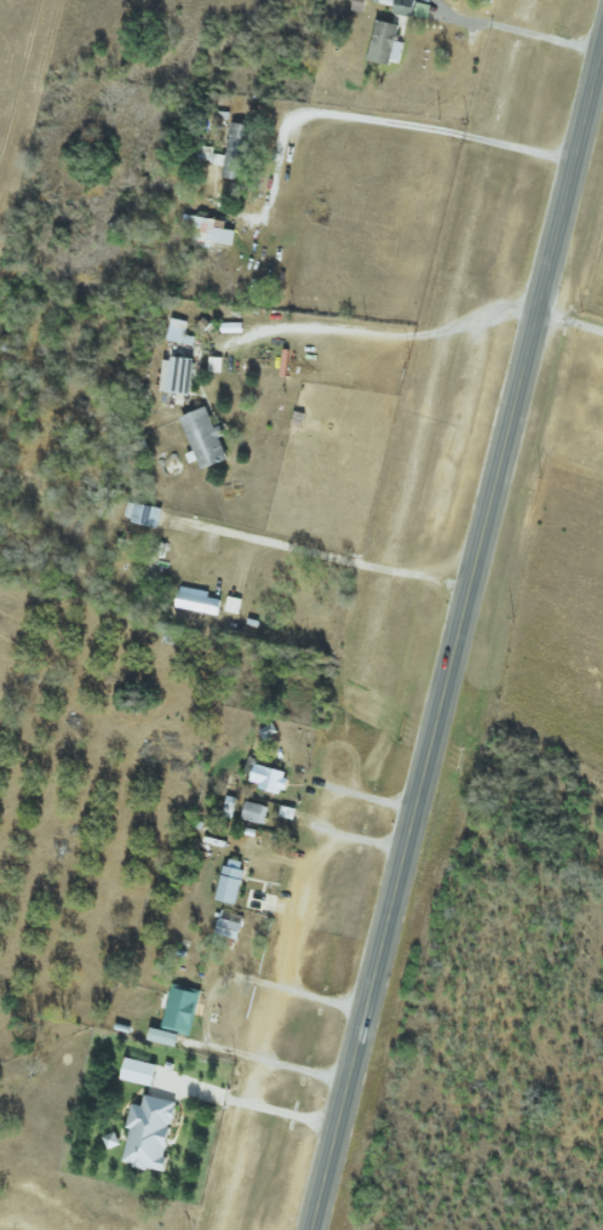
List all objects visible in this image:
building: (408, 7)
road: (527, 34)
building: (389, 42)
road: (383, 115)
building: (240, 151)
building: (217, 233)
road: (572, 321)
road: (396, 330)
building: (180, 333)
building: (179, 377)
building: (207, 439)
building: (149, 515)
road: (332, 556)
building: (199, 601)
road: (456, 645)
building: (271, 779)
road: (358, 795)
building: (230, 808)
building: (255, 813)
road: (309, 871)
building: (234, 883)
building: (232, 927)
road: (297, 990)
building: (183, 1012)
building: (167, 1039)
road: (241, 1055)
building: (142, 1072)
road: (252, 1104)
building: (153, 1134)

